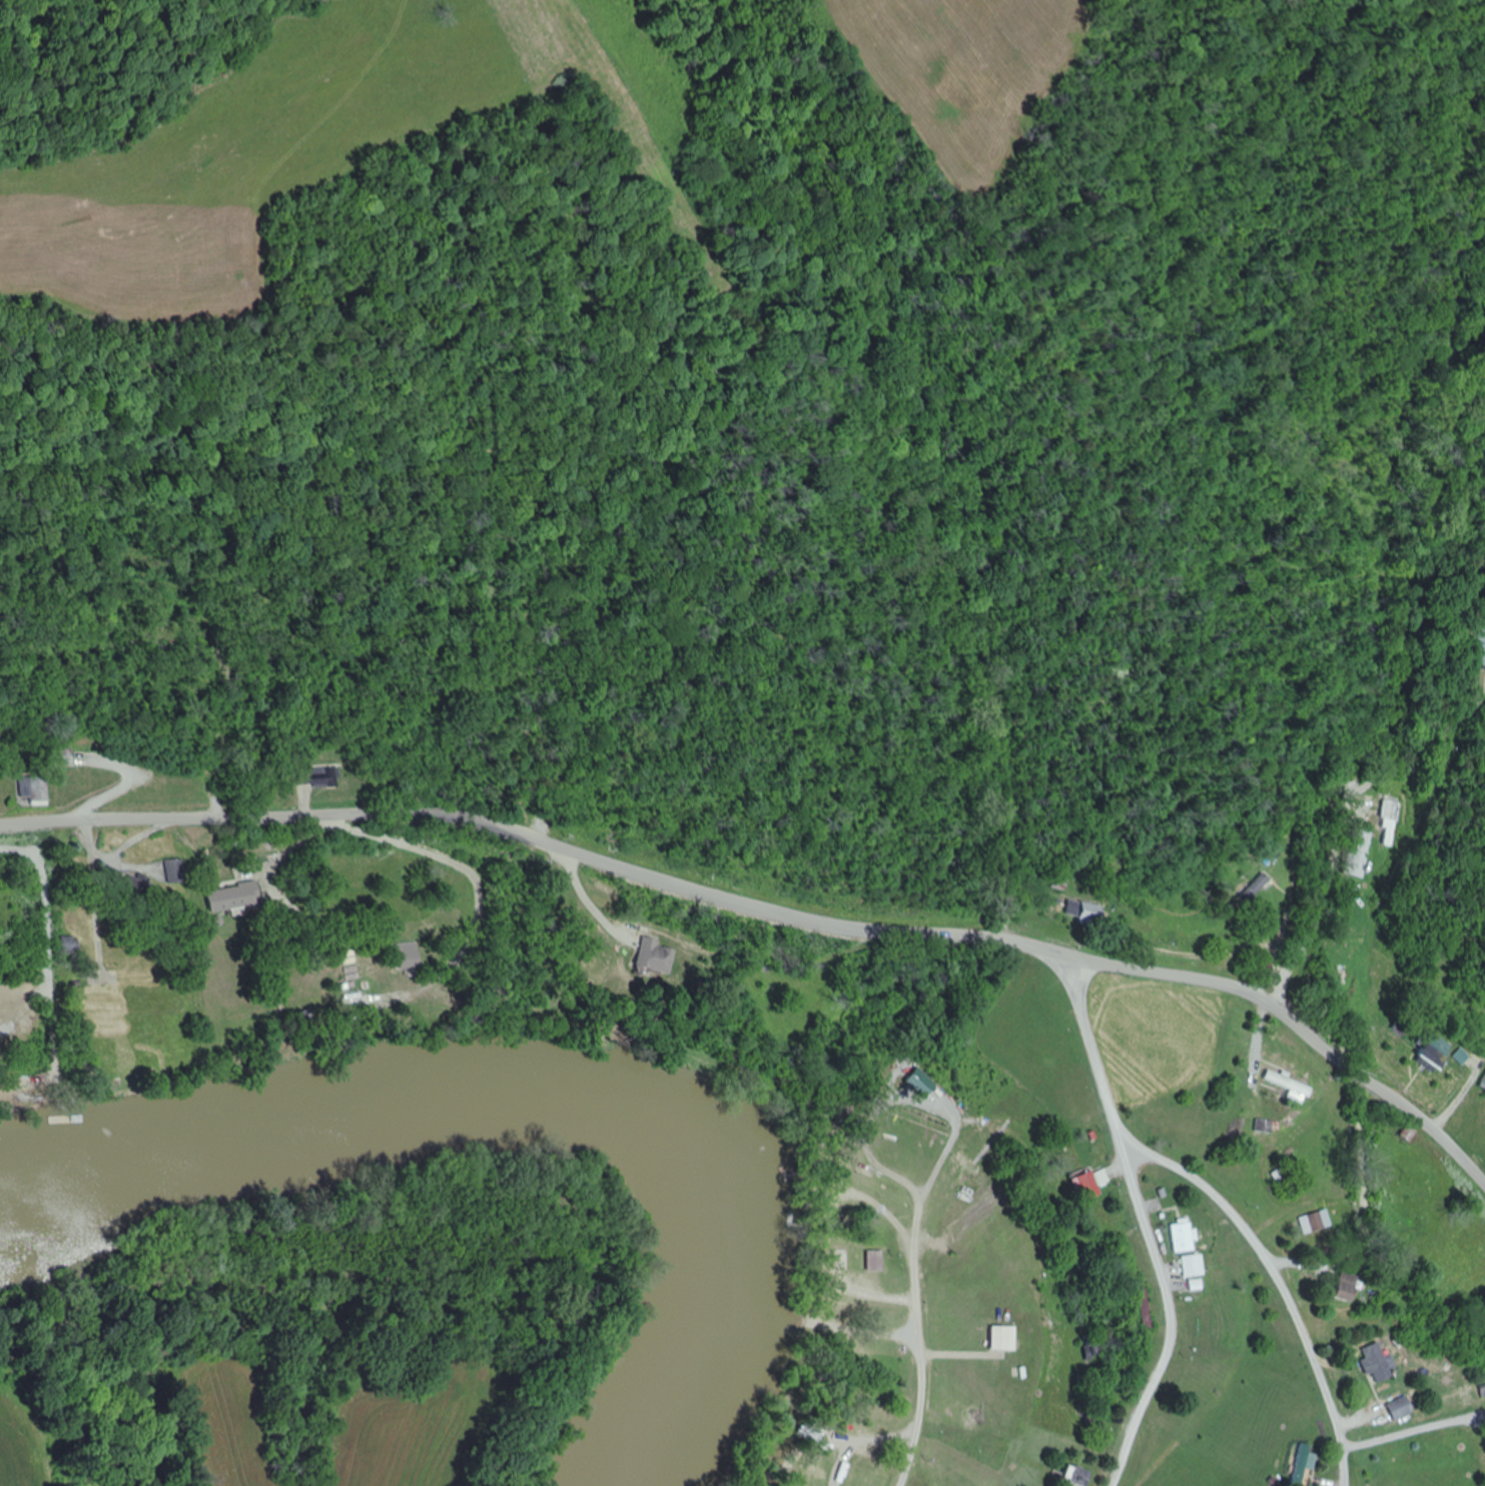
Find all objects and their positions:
road: (1400, 620)
building: (325, 777)
building: (38, 791)
building: (1390, 823)
building: (1364, 854)
building: (180, 871)
building: (1257, 888)
building: (145, 890)
building: (238, 898)
road: (771, 907)
building: (1091, 913)
building: (75, 941)
building: (659, 956)
building: (413, 958)
building: (363, 969)
building: (1440, 1052)
building: (1297, 1089)
building: (1263, 1126)
building: (1093, 1184)
building: (1286, 1184)
road: (1148, 1220)
building: (1309, 1224)
building: (1186, 1236)
building: (876, 1261)
building: (1196, 1266)
road: (1283, 1283)
building: (1346, 1286)
building: (1147, 1309)
building: (1002, 1337)
building: (1378, 1362)
road: (923, 1385)
building: (1403, 1407)
building: (1081, 1475)

